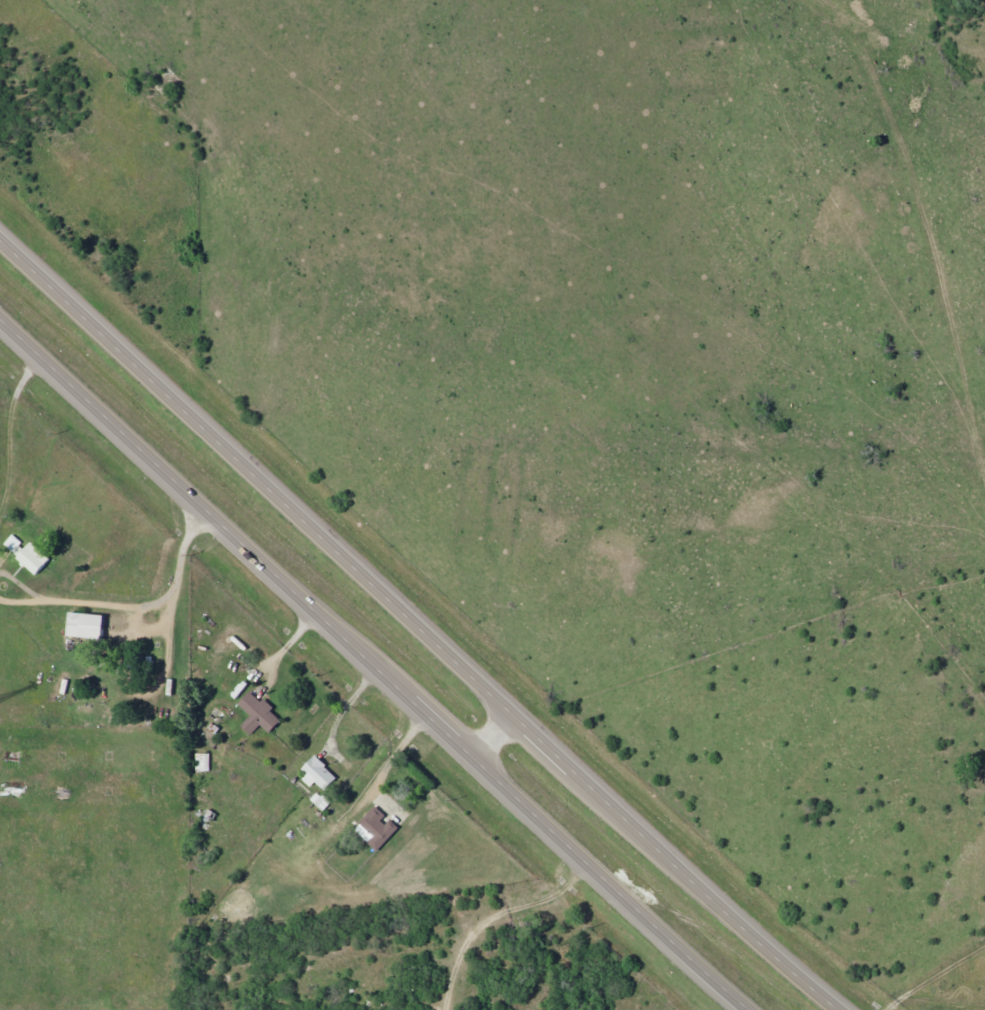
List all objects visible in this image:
building: (27, 554)
building: (83, 625)
road: (425, 625)
road: (373, 663)
building: (256, 714)
road: (494, 731)
building: (201, 762)
building: (318, 773)
building: (319, 801)
building: (377, 828)

